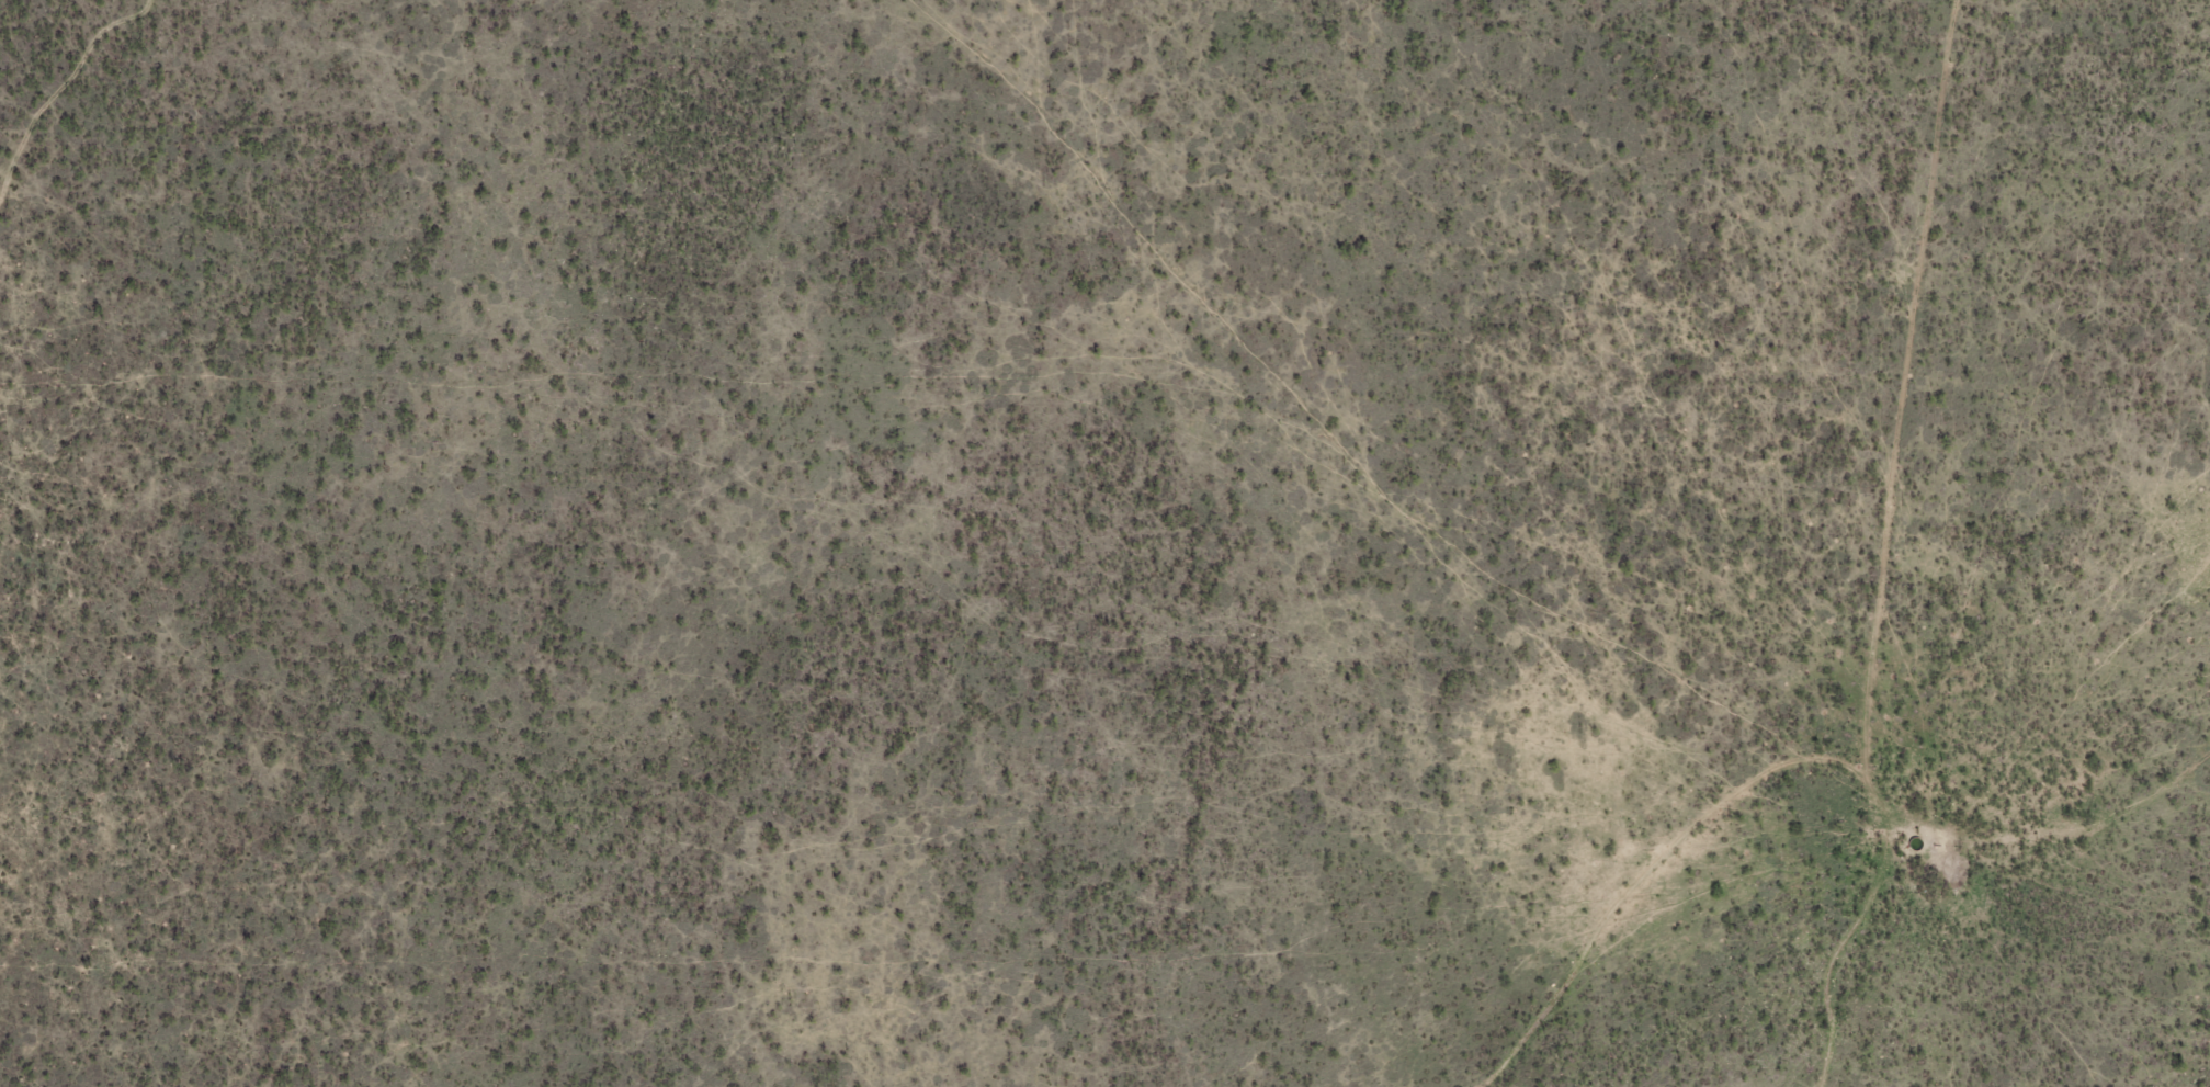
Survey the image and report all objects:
road: (1823, 1017)

